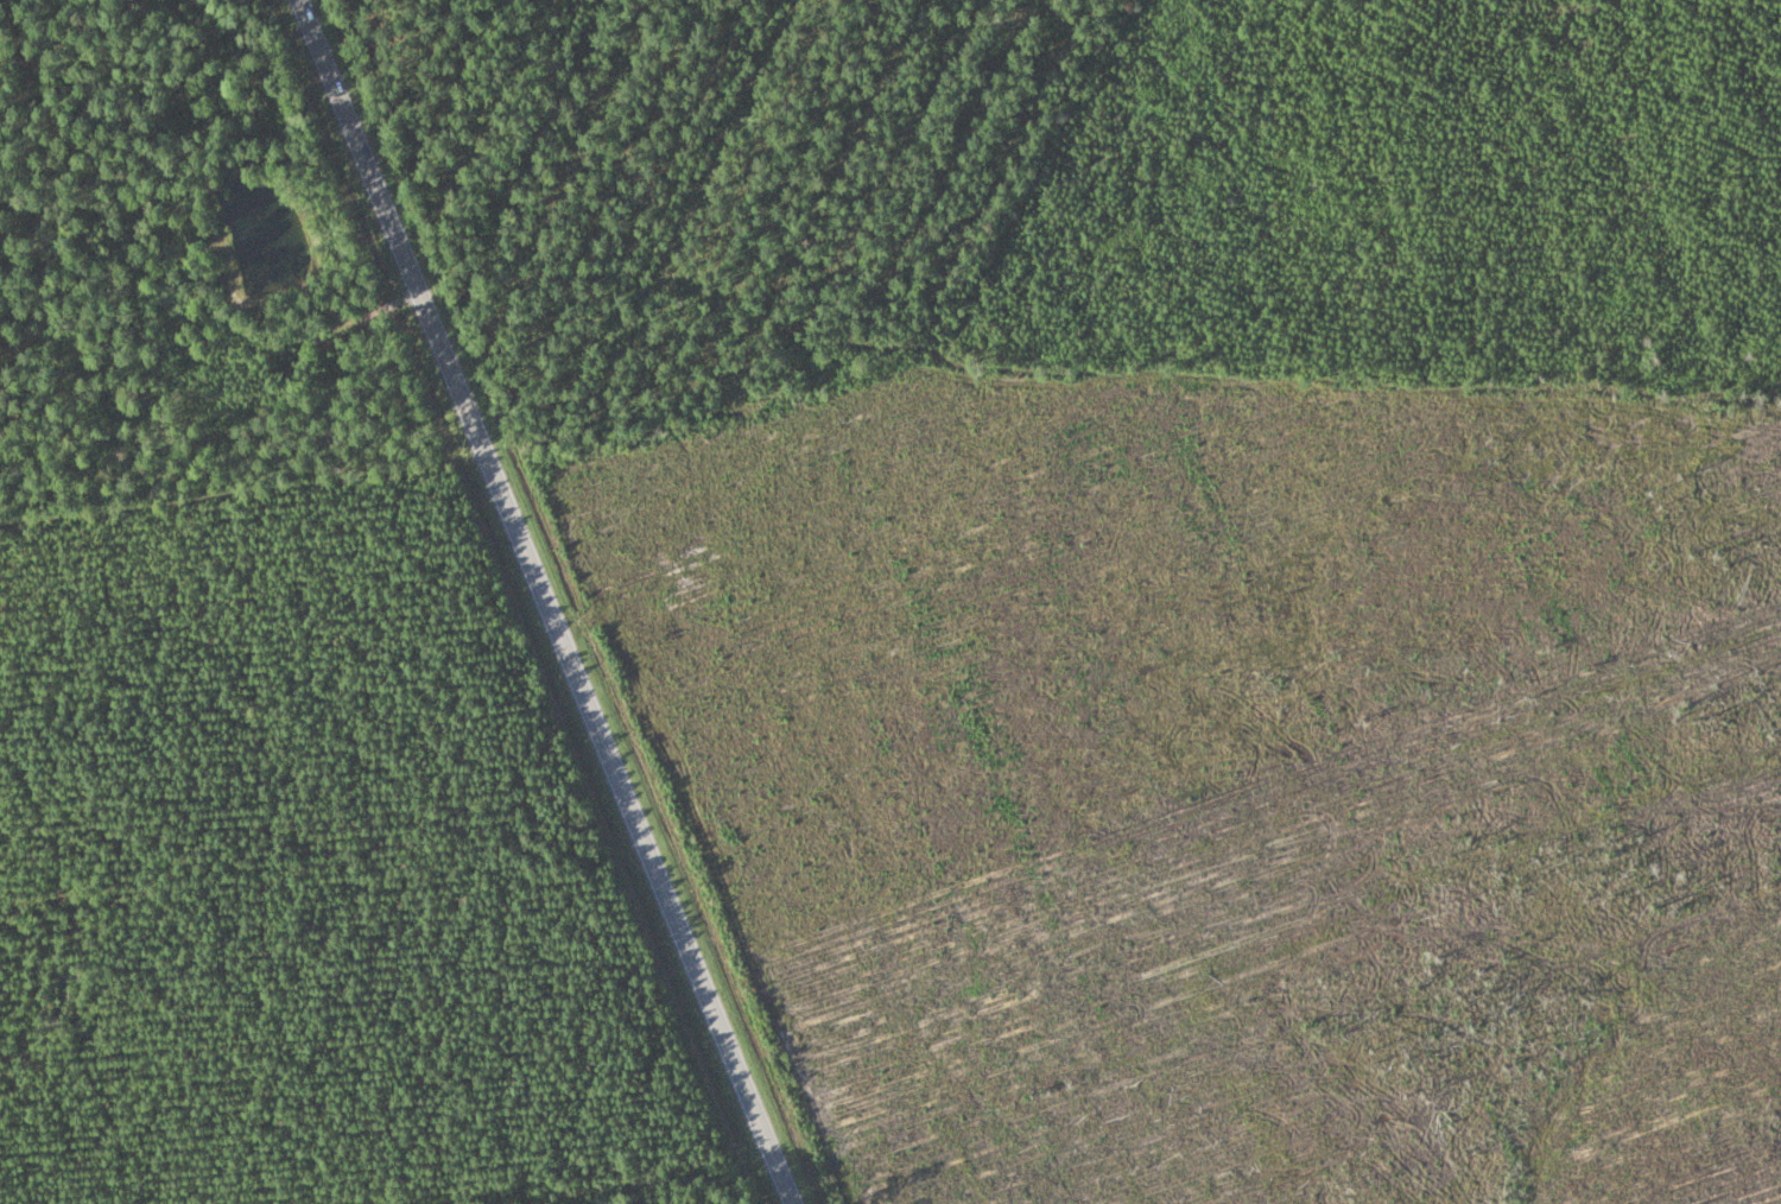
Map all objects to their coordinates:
road: (546, 602)

